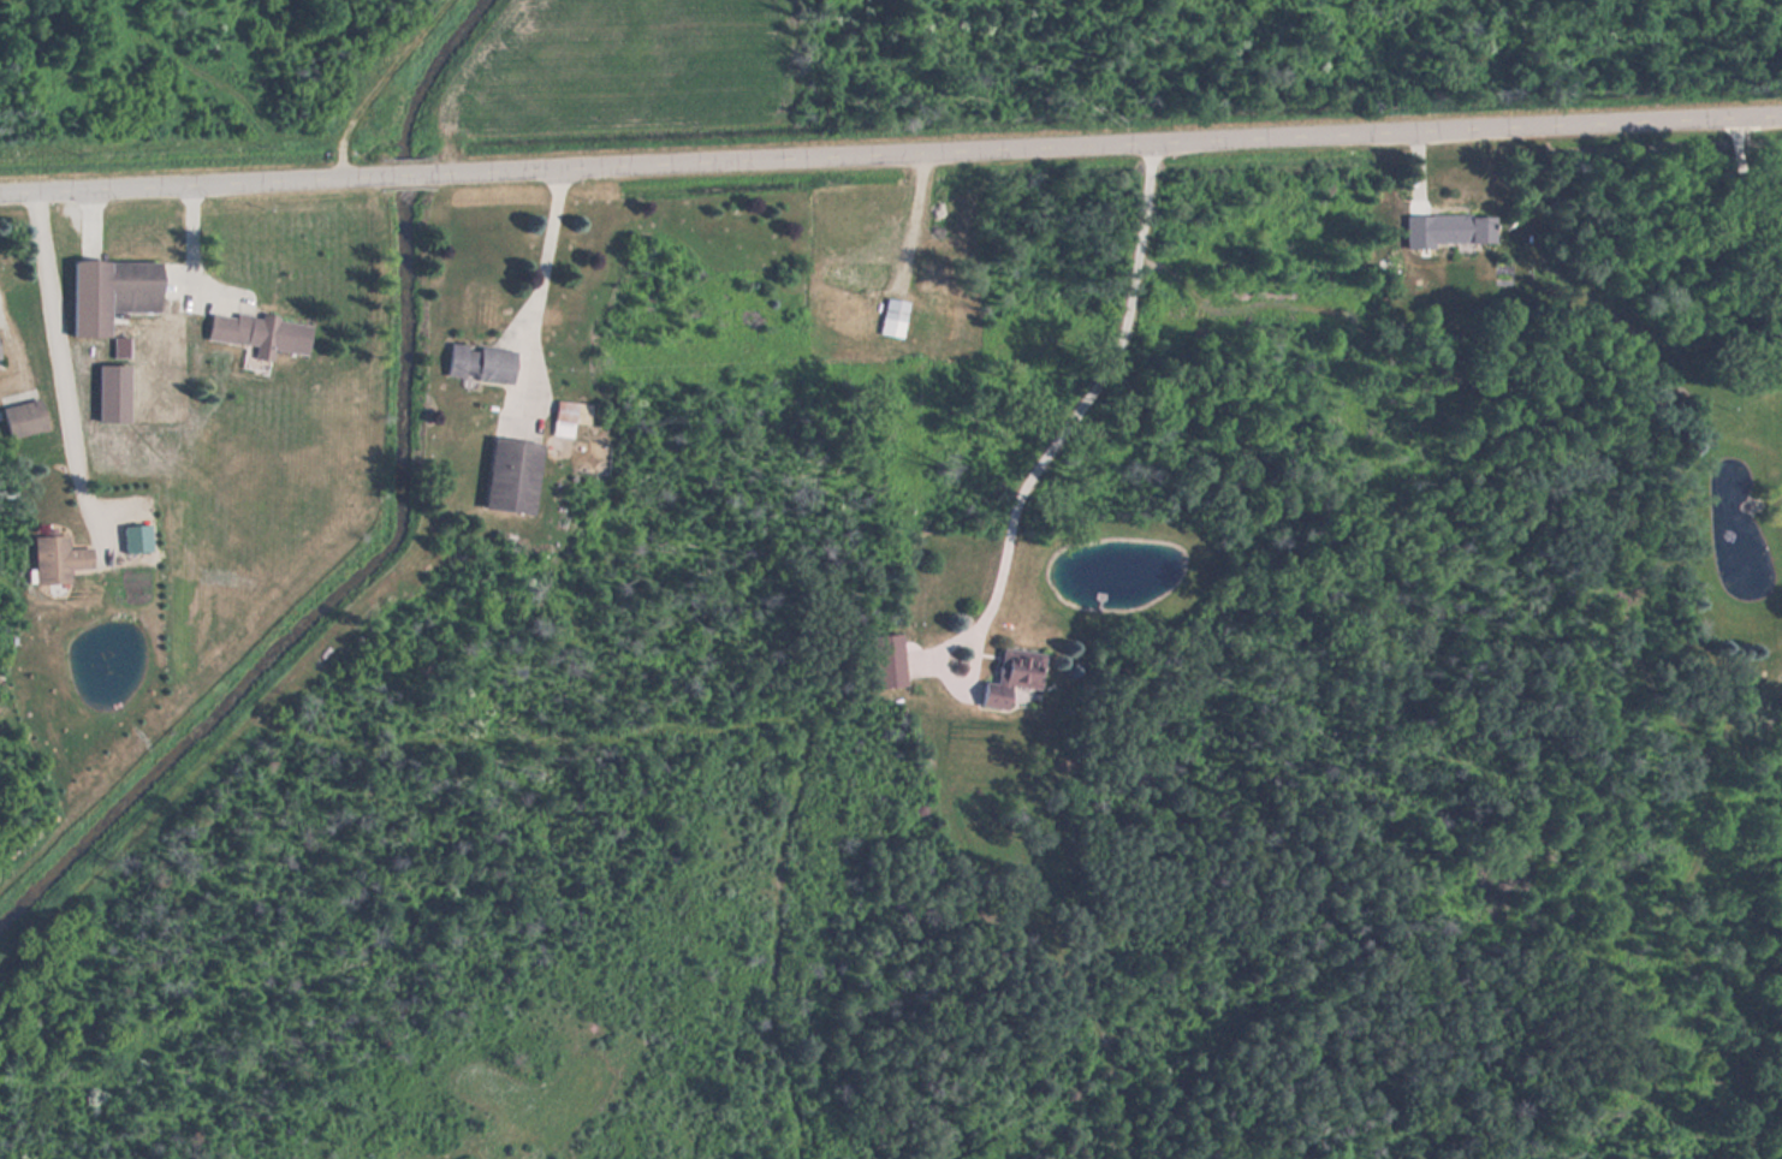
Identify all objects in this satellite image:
park: (1251, 63)
road: (1111, 144)
road: (411, 173)
road: (191, 183)
building: (1455, 225)
building: (855, 272)
building: (106, 292)
building: (892, 314)
building: (255, 332)
building: (477, 361)
building: (568, 415)
building: (18, 418)
building: (507, 474)
building: (53, 558)
building: (883, 666)
building: (1008, 672)

